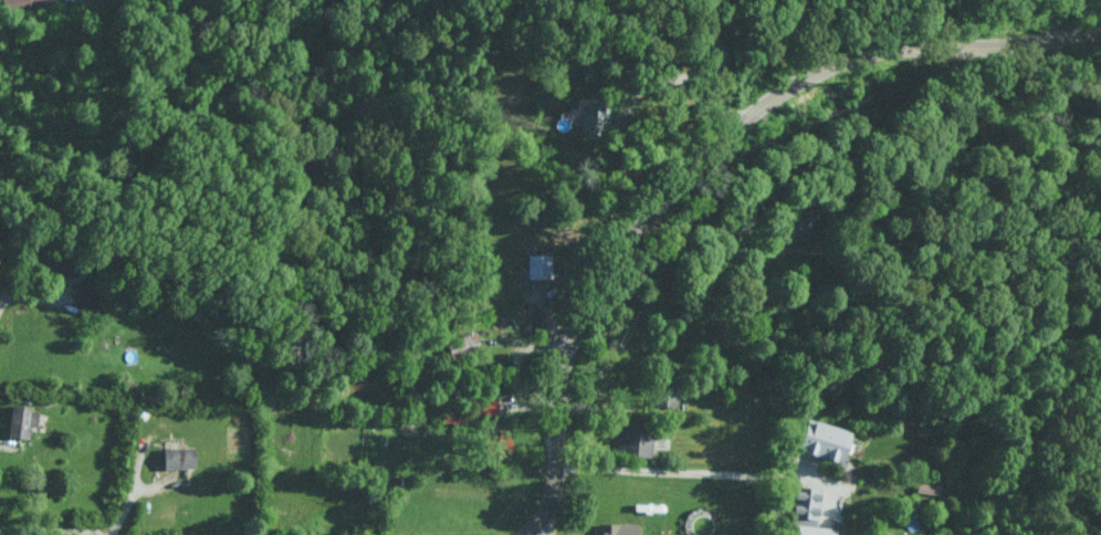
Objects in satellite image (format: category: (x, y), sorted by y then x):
building: (22, 3)
road: (702, 157)
building: (539, 265)
building: (87, 285)
road: (31, 290)
building: (522, 324)
building: (489, 406)
building: (22, 420)
building: (826, 440)
building: (635, 441)
building: (180, 457)
road: (671, 471)
road: (133, 485)
building: (618, 528)
road: (50, 529)

